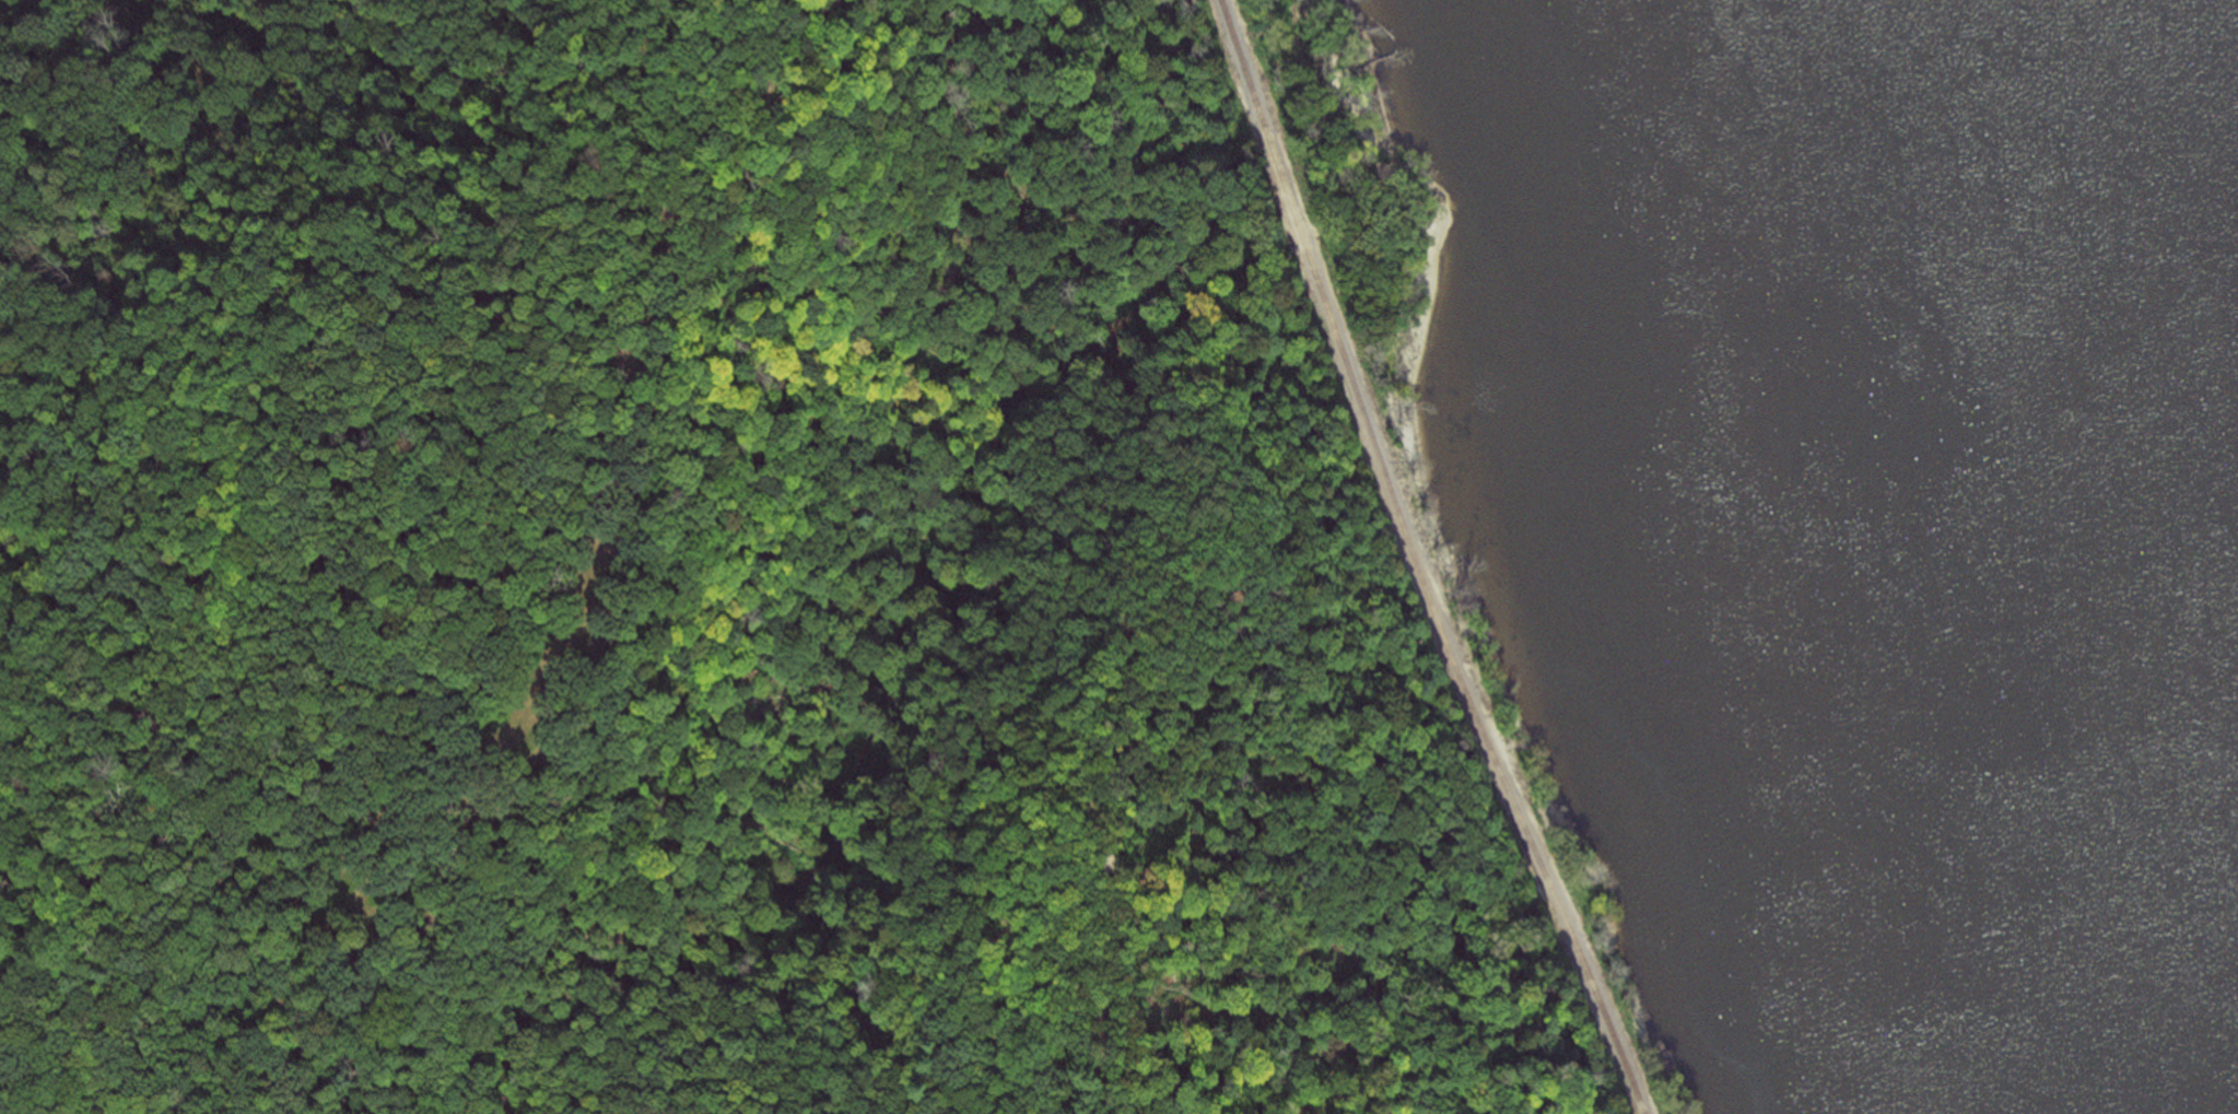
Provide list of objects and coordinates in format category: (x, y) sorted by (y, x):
river: (2143, 403)
railway: (1423, 560)
road: (241, 747)
road: (472, 775)
road: (277, 1011)
road: (852, 1043)
road: (901, 1064)

